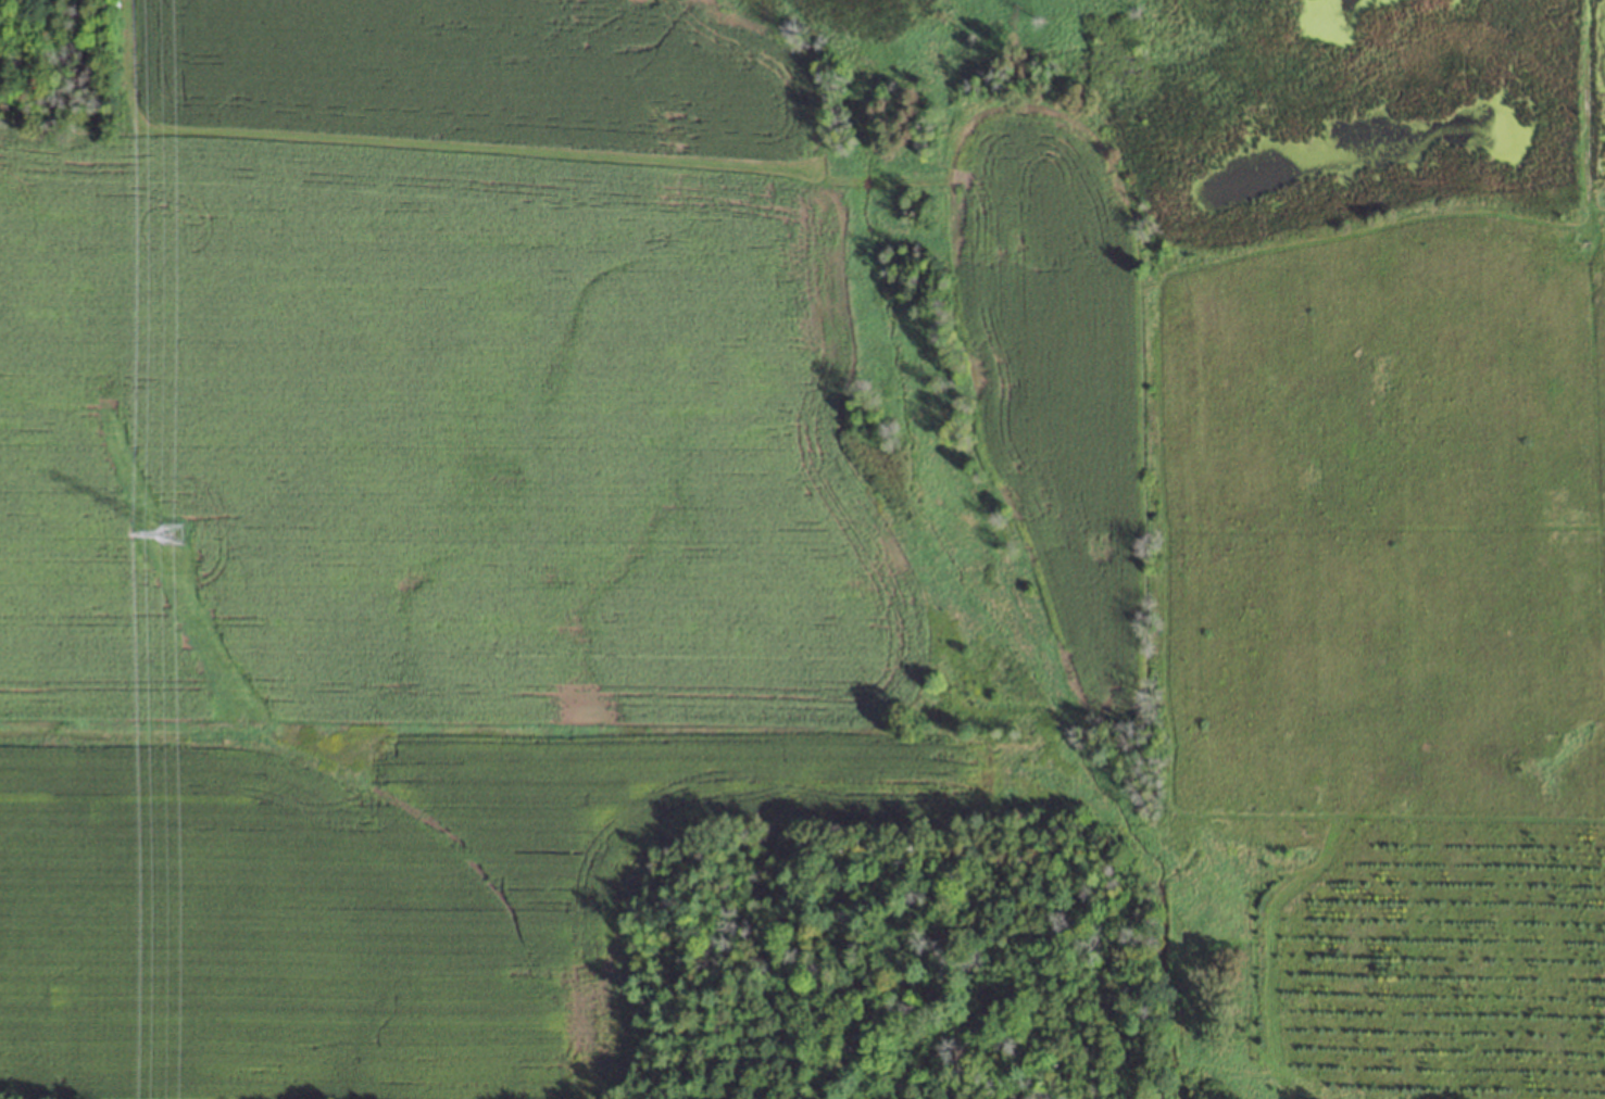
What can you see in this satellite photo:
power tower: (170, 531)

